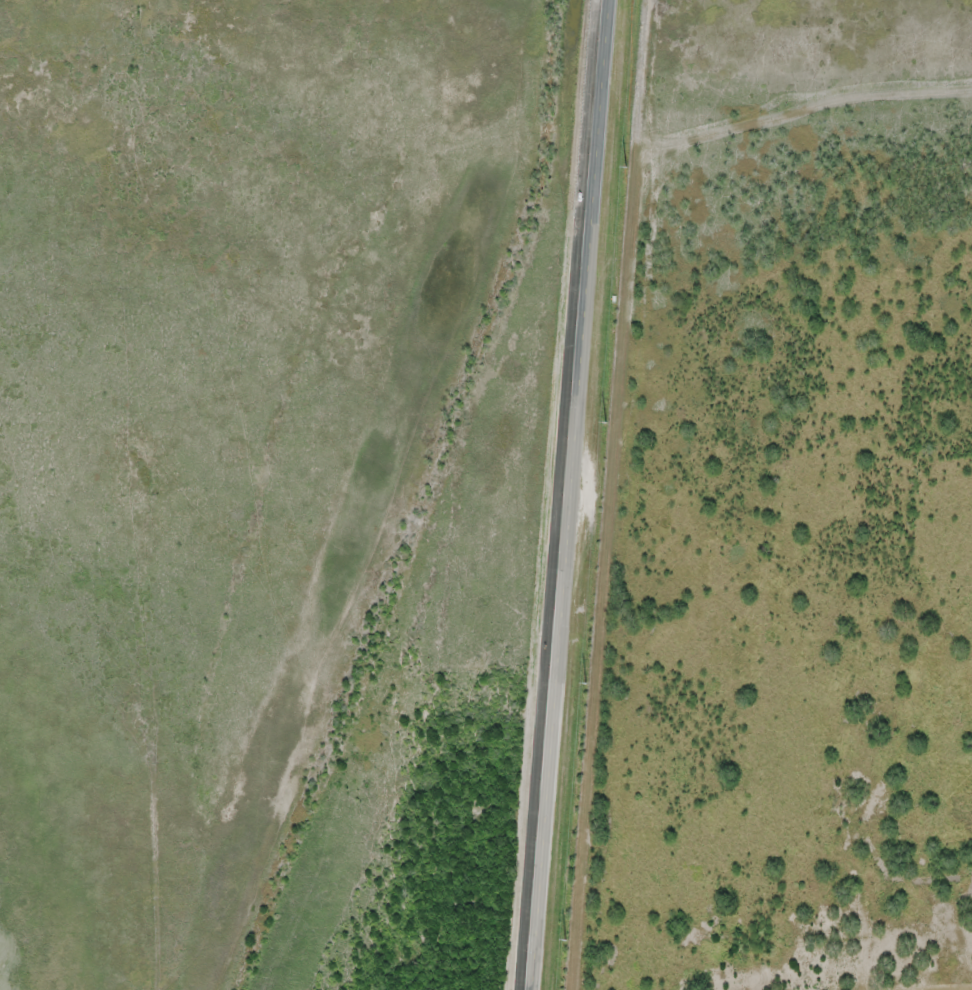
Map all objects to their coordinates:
road: (570, 494)

